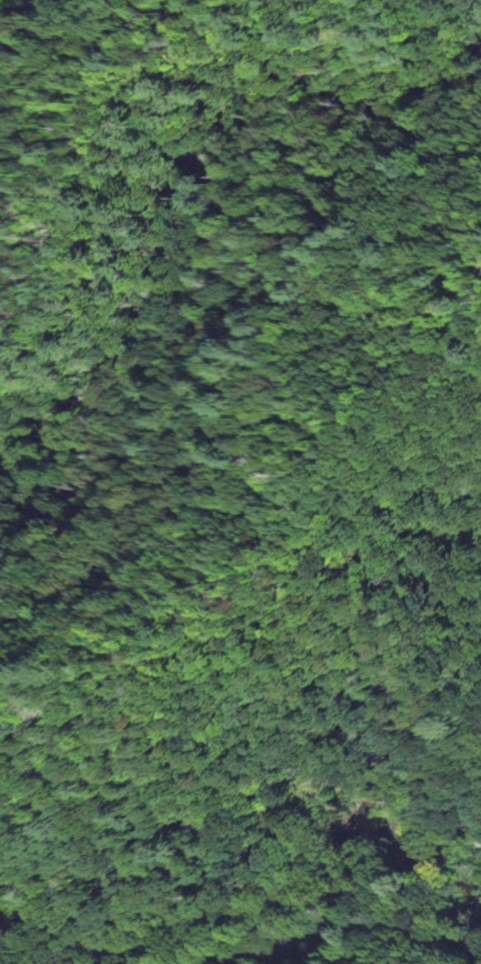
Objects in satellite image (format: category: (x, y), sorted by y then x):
river: (242, 912)
railway: (351, 927)

